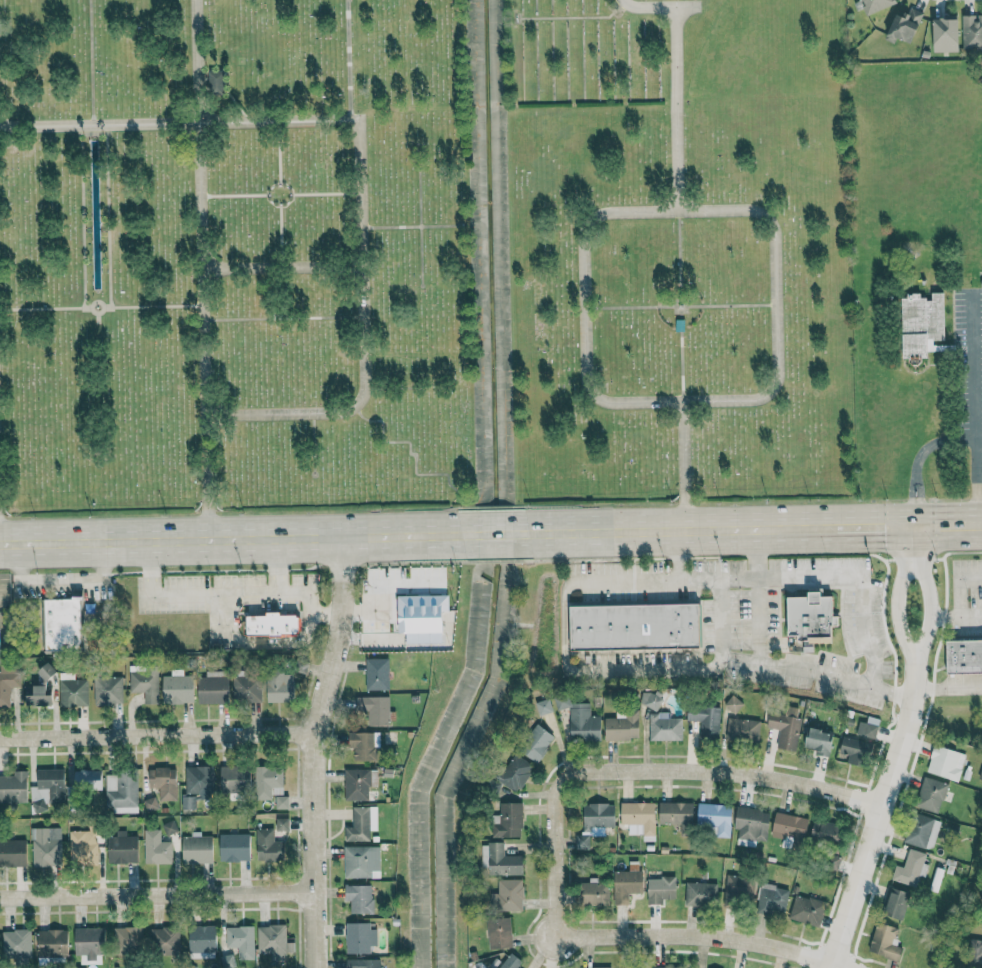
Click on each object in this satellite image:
building: (875, 5)
road: (662, 6)
building: (904, 26)
building: (972, 31)
building: (946, 33)
building: (215, 82)
road: (179, 124)
road: (201, 208)
park: (679, 248)
park: (234, 251)
road: (283, 269)
building: (921, 325)
road: (367, 339)
parking lot: (967, 364)
road: (780, 380)
road: (972, 407)
road: (917, 460)
road: (694, 465)
road: (208, 477)
road: (946, 524)
road: (979, 524)
road: (876, 526)
road: (683, 529)
road: (495, 533)
road: (230, 537)
road: (823, 576)
road: (645, 580)
road: (58, 581)
road: (959, 586)
road: (756, 595)
road: (214, 596)
road: (310, 605)
road: (948, 615)
road: (720, 619)
building: (811, 619)
building: (423, 622)
building: (62, 624)
building: (272, 625)
building: (635, 627)
road: (564, 631)
building: (964, 657)
road: (742, 662)
building: (376, 673)
building: (144, 681)
building: (8, 682)
building: (279, 685)
road: (947, 686)
building: (177, 687)
building: (213, 687)
building: (246, 688)
building: (107, 689)
building: (72, 690)
building: (37, 694)
building: (651, 699)
building: (733, 703)
building: (543, 706)
building: (374, 708)
building: (580, 719)
building: (705, 719)
building: (622, 725)
building: (664, 726)
building: (785, 727)
building: (867, 727)
building: (742, 729)
road: (158, 740)
building: (819, 741)
building: (536, 742)
building: (363, 745)
road: (315, 749)
building: (853, 749)
road: (896, 750)
building: (945, 762)
building: (511, 773)
road: (746, 773)
building: (234, 777)
building: (87, 779)
building: (267, 781)
building: (163, 782)
building: (196, 783)
building: (358, 783)
building: (13, 787)
building: (46, 787)
building: (121, 792)
building: (930, 794)
building: (281, 801)
building: (149, 803)
building: (675, 812)
building: (715, 817)
building: (639, 818)
building: (507, 820)
building: (596, 822)
building: (361, 823)
building: (281, 824)
building: (751, 824)
building: (789, 825)
building: (826, 830)
building: (922, 831)
building: (45, 846)
building: (82, 846)
building: (267, 846)
road: (552, 846)
building: (155, 847)
building: (234, 847)
building: (122, 848)
building: (196, 849)
building: (12, 852)
building: (500, 860)
building: (361, 861)
building: (444, 867)
building: (909, 868)
building: (627, 881)
building: (738, 888)
building: (660, 889)
building: (592, 893)
building: (700, 893)
building: (507, 895)
building: (771, 896)
road: (156, 897)
building: (359, 898)
building: (896, 903)
building: (806, 910)
building: (499, 932)
road: (723, 936)
building: (359, 937)
building: (165, 938)
building: (201, 938)
building: (127, 939)
building: (240, 940)
building: (273, 941)
building: (884, 941)
building: (16, 942)
building: (51, 942)
building: (89, 944)
building: (975, 951)
building: (510, 961)
building: (363, 963)
building: (608, 967)
building: (639, 967)
building: (667, 967)

